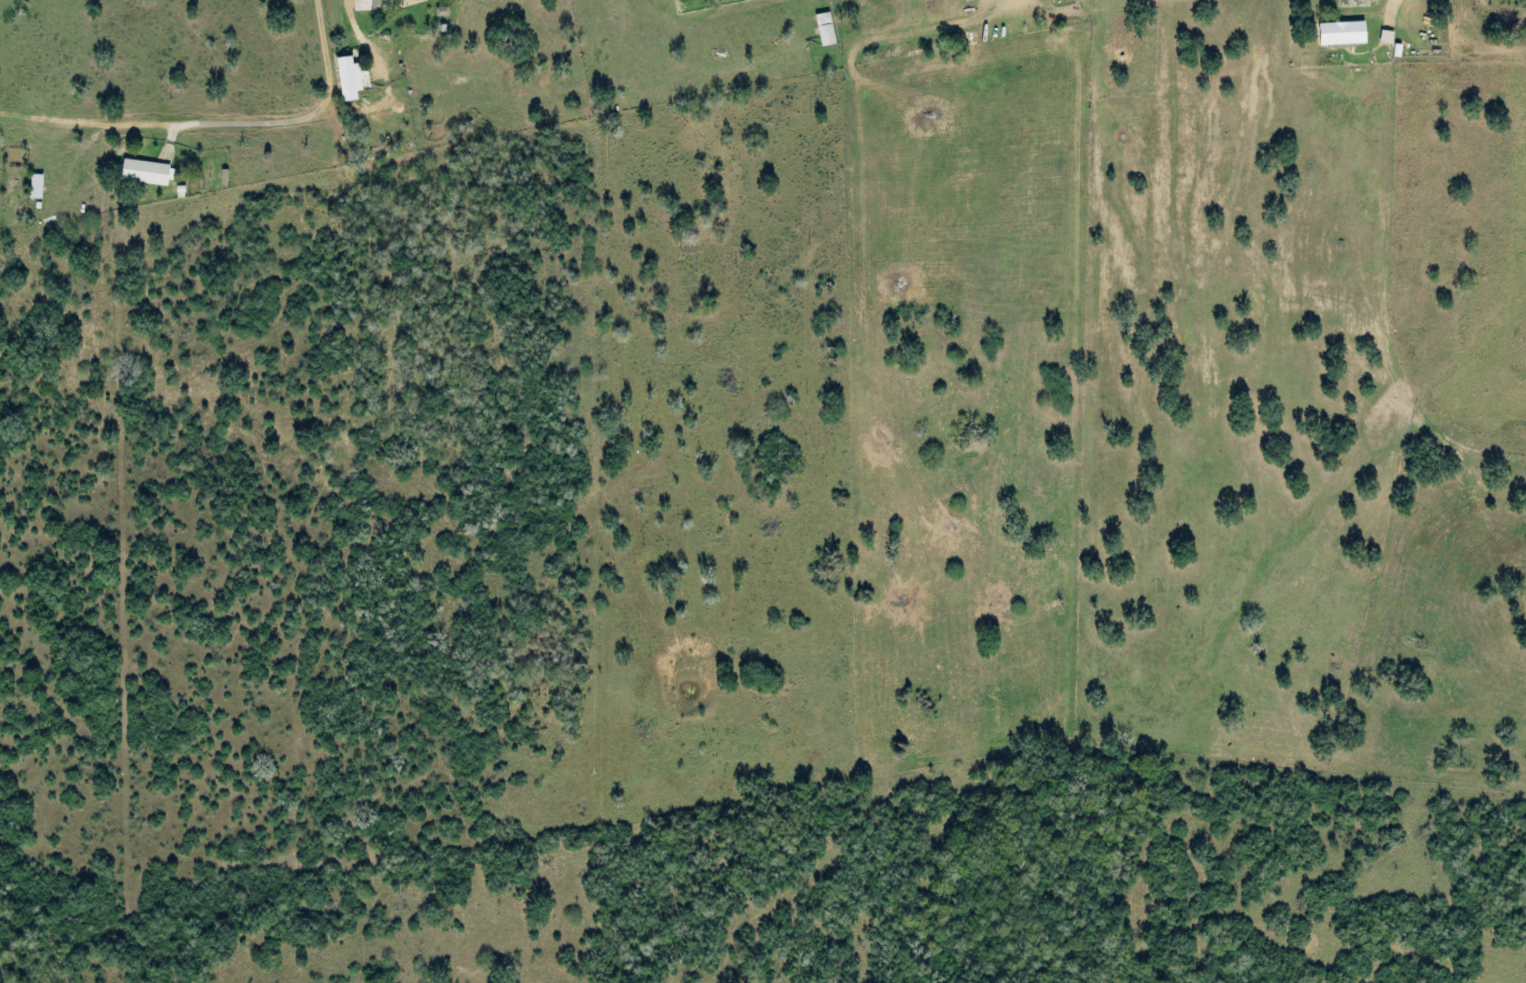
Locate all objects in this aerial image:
building: (382, 4)
building: (444, 12)
building: (827, 30)
building: (1345, 34)
building: (1389, 38)
building: (351, 79)
building: (148, 173)
building: (38, 187)

